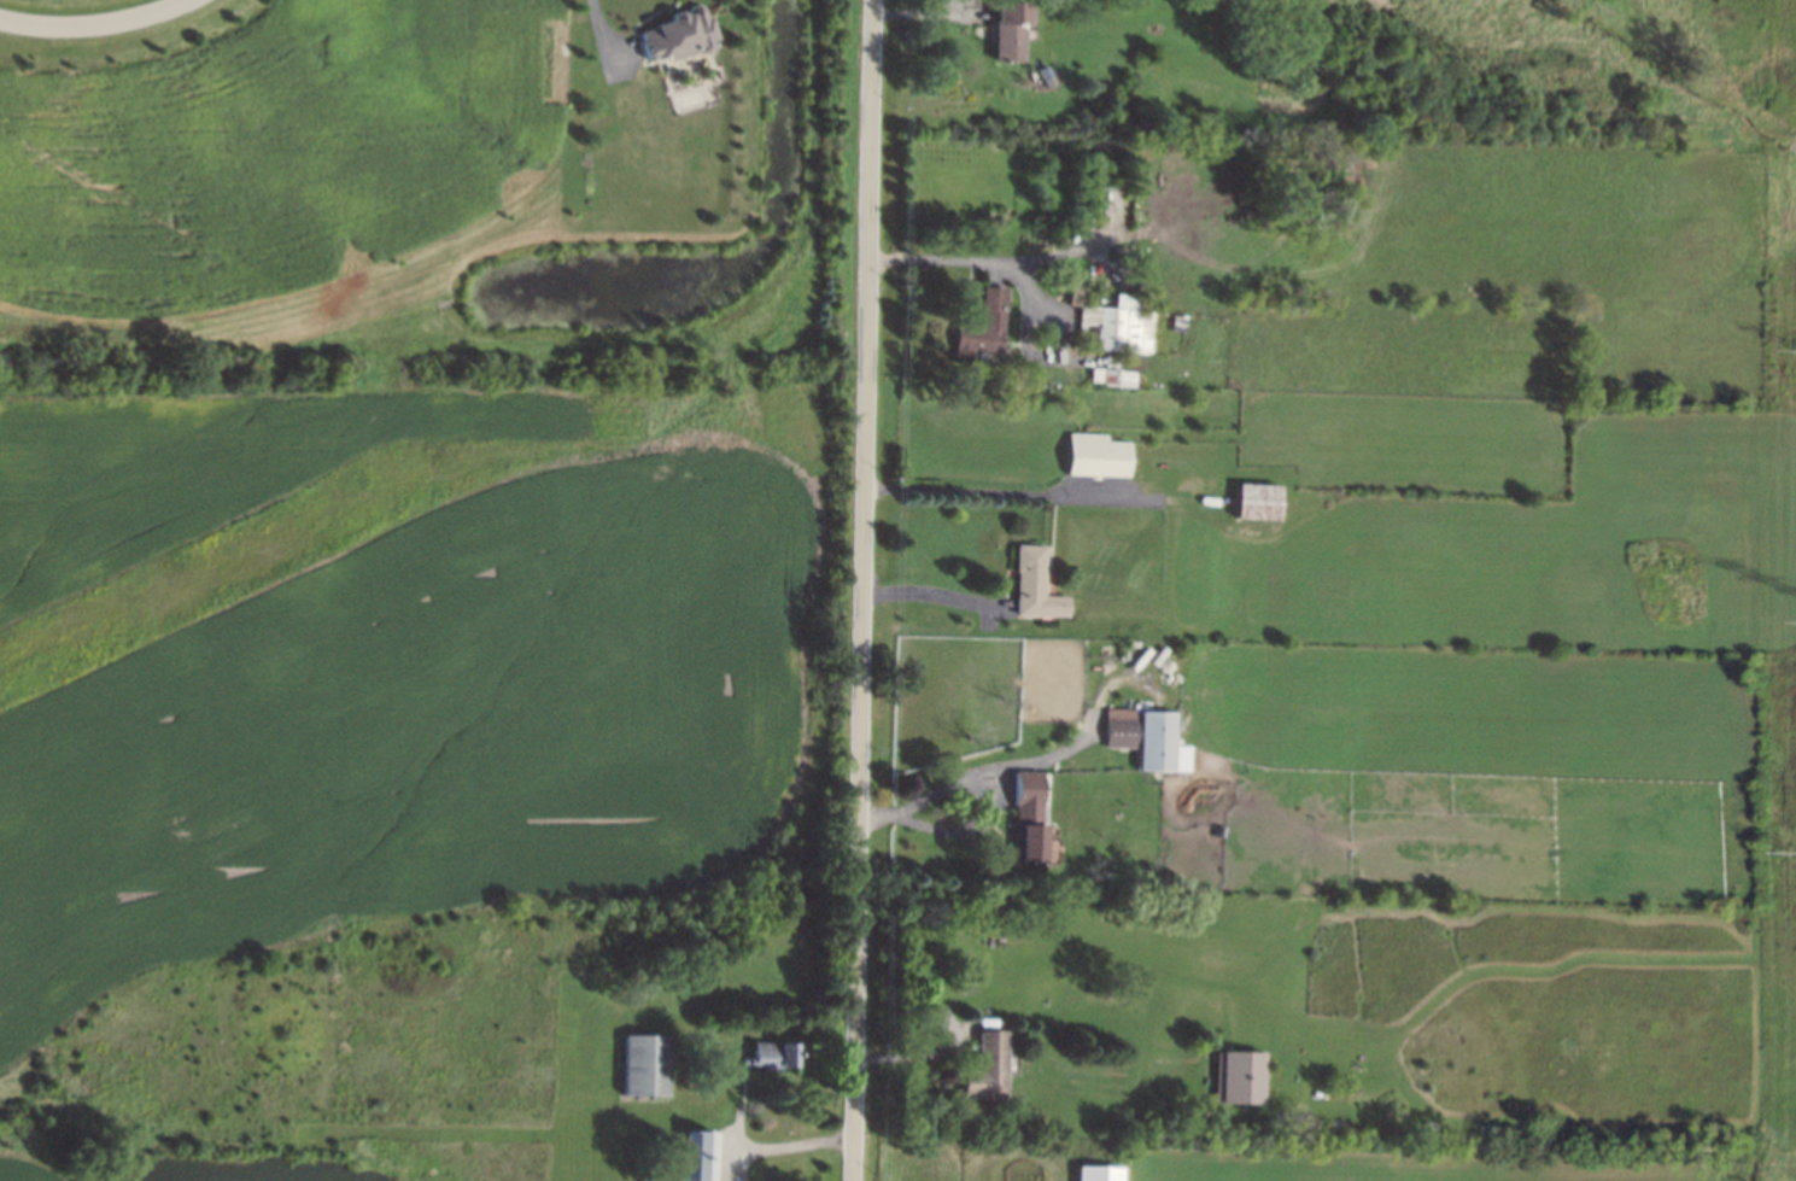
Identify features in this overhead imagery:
road: (94, 24)
building: (1011, 30)
building: (680, 35)
road: (602, 39)
road: (972, 261)
building: (995, 317)
building: (1116, 326)
building: (1112, 378)
building: (1098, 456)
crop: (215, 457)
road: (991, 491)
building: (1260, 503)
building: (1036, 585)
road: (930, 589)
road: (864, 590)
building: (1121, 729)
crop: (414, 736)
building: (1160, 744)
road: (1060, 749)
road: (984, 817)
building: (1029, 818)
building: (773, 1054)
building: (647, 1064)
building: (988, 1068)
building: (1240, 1076)
road: (780, 1145)
building: (701, 1156)
building: (1100, 1174)
building: (671, 1180)

